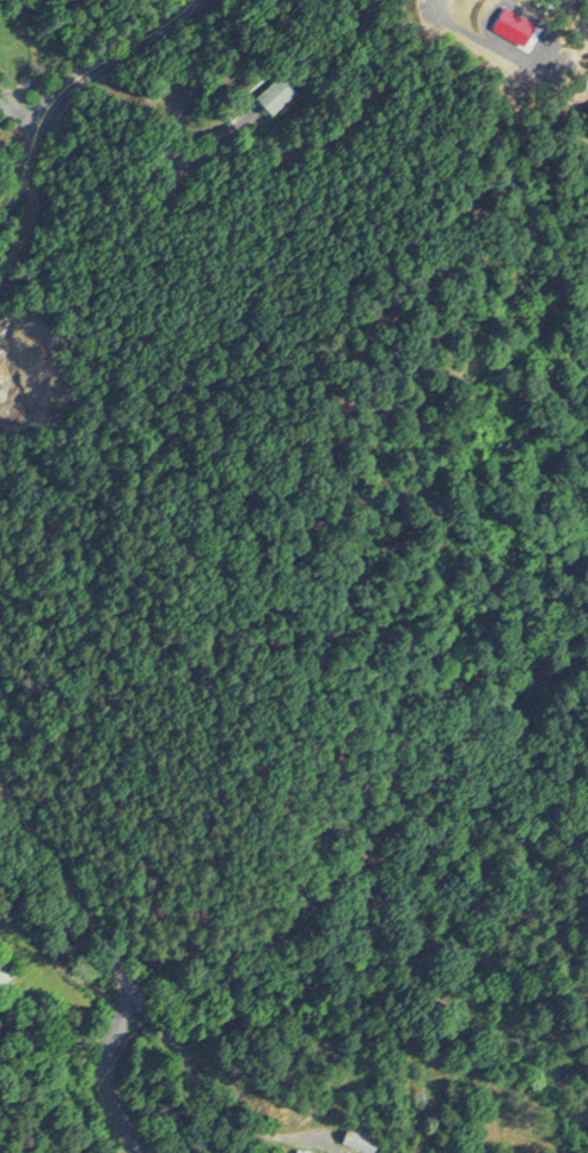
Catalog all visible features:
building: (275, 94)
road: (131, 99)
road: (68, 989)
building: (360, 1137)

